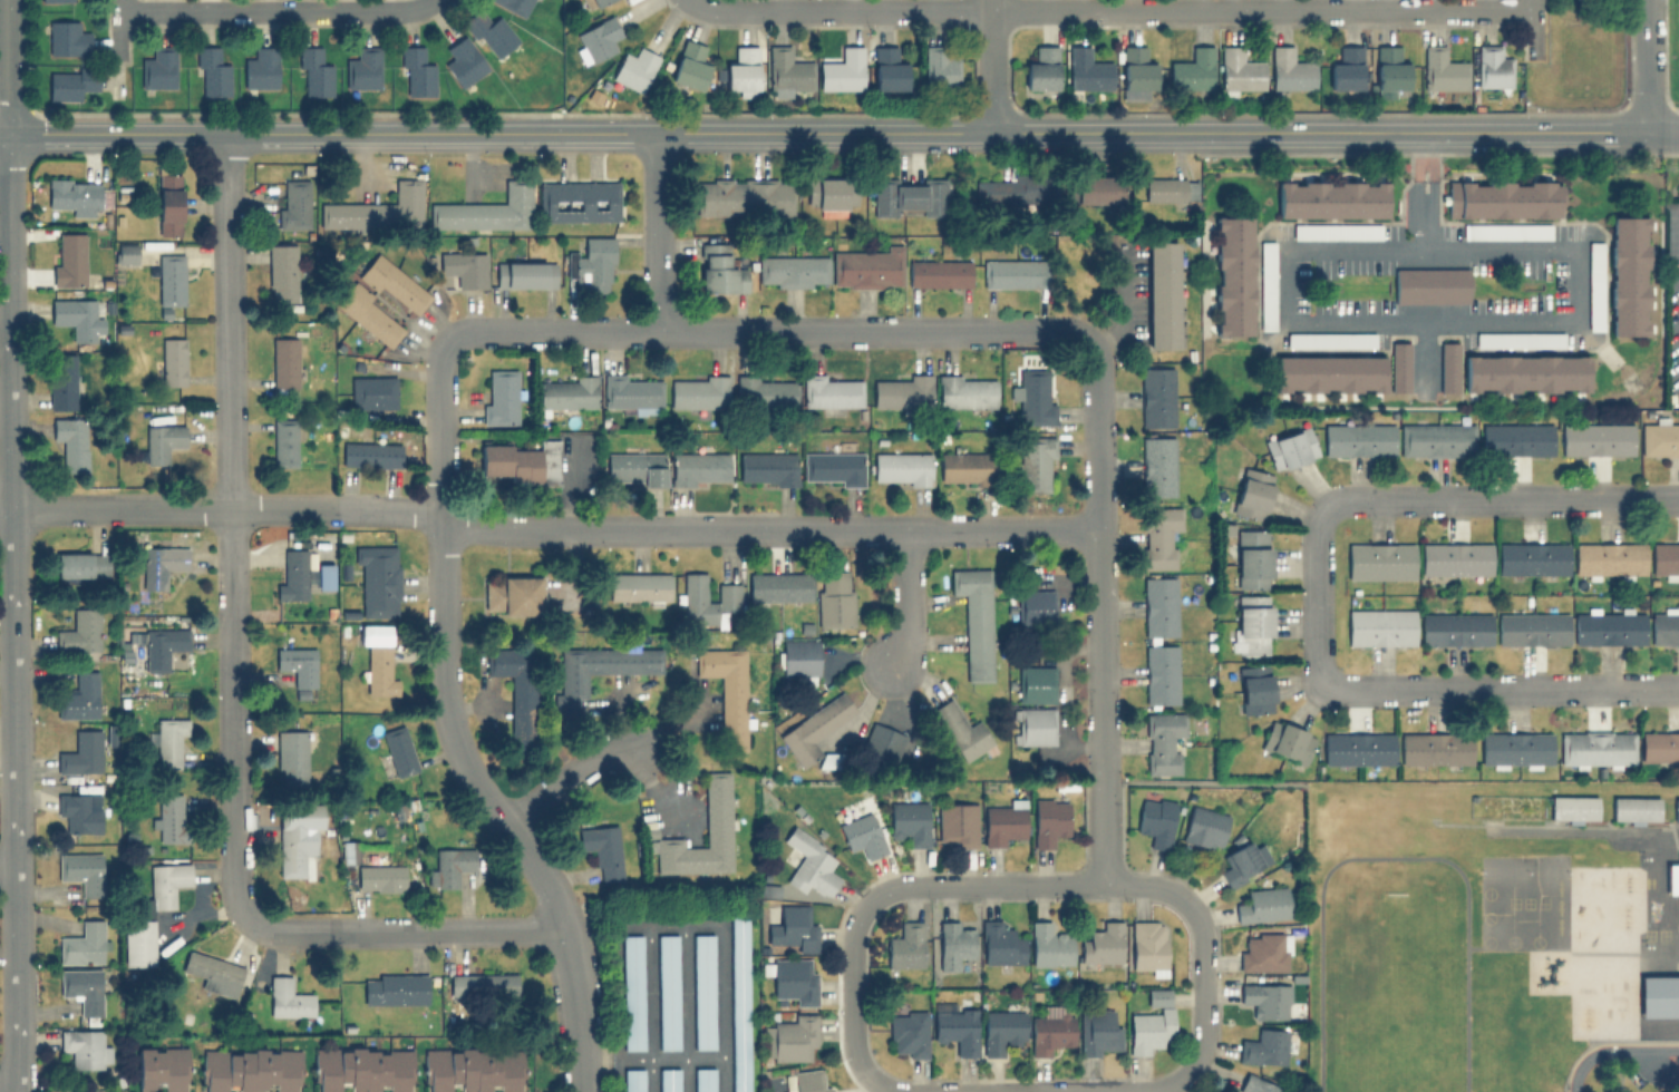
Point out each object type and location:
building: (56, 0)
building: (593, 2)
building: (512, 4)
road: (841, 9)
road: (1259, 10)
road: (273, 11)
building: (489, 32)
building: (67, 38)
building: (598, 38)
building: (463, 60)
building: (689, 65)
building: (938, 66)
road: (989, 66)
building: (1492, 66)
road: (1647, 66)
road: (4, 67)
building: (158, 67)
building: (261, 68)
building: (362, 68)
building: (887, 68)
building: (1041, 68)
building: (1346, 68)
building: (1390, 68)
building: (634, 69)
building: (1087, 69)
building: (1192, 69)
building: (1240, 69)
building: (1290, 69)
building: (1442, 69)
building: (744, 70)
building: (842, 70)
building: (1136, 70)
building: (313, 71)
building: (415, 71)
building: (787, 71)
building: (212, 72)
building: (69, 82)
road: (599, 133)
road: (1423, 133)
road: (1662, 133)
road: (1421, 155)
building: (1171, 188)
building: (1012, 189)
building: (1096, 189)
building: (829, 193)
building: (909, 195)
building: (74, 196)
building: (744, 196)
building: (1332, 198)
building: (1502, 198)
building: (579, 201)
building: (294, 203)
building: (168, 204)
building: (378, 209)
building: (488, 209)
building: (1505, 230)
road: (657, 231)
building: (1336, 231)
building: (126, 253)
building: (69, 259)
building: (591, 264)
building: (464, 267)
building: (867, 267)
building: (718, 269)
building: (793, 271)
building: (282, 272)
building: (938, 272)
building: (1594, 272)
building: (1013, 273)
building: (525, 274)
building: (1233, 275)
building: (1628, 275)
building: (171, 279)
building: (395, 283)
building: (1266, 284)
building: (1430, 285)
building: (1162, 294)
building: (370, 315)
building: (75, 316)
road: (1399, 316)
road: (765, 328)
building: (1330, 339)
building: (1511, 340)
building: (173, 361)
building: (284, 361)
building: (1399, 365)
building: (1448, 367)
building: (1329, 373)
building: (1525, 373)
building: (62, 380)
building: (965, 390)
building: (371, 391)
building: (700, 391)
building: (766, 391)
building: (831, 391)
building: (903, 391)
building: (567, 392)
building: (631, 393)
building: (1035, 396)
building: (1156, 396)
building: (501, 398)
building: (1659, 438)
building: (1359, 439)
building: (1437, 439)
building: (1517, 439)
building: (1596, 439)
building: (71, 441)
building: (162, 441)
building: (284, 442)
building: (1290, 448)
building: (370, 454)
building: (522, 461)
building: (1036, 462)
building: (1157, 466)
building: (700, 467)
building: (834, 467)
building: (965, 467)
building: (634, 468)
building: (767, 468)
building: (902, 468)
building: (1251, 493)
road: (1497, 497)
road: (549, 525)
road: (232, 527)
building: (1159, 536)
building: (1532, 557)
building: (1609, 557)
building: (1252, 558)
building: (1456, 558)
building: (1665, 558)
building: (1380, 559)
road: (1100, 560)
building: (162, 564)
building: (81, 565)
building: (293, 574)
building: (324, 576)
building: (379, 579)
building: (639, 586)
building: (778, 586)
building: (513, 595)
building: (834, 597)
road: (1313, 598)
road: (908, 599)
building: (709, 601)
building: (1159, 606)
building: (1035, 607)
road: (12, 613)
building: (974, 620)
building: (1252, 624)
building: (1380, 626)
building: (1609, 626)
building: (1665, 626)
building: (1455, 627)
building: (1532, 627)
building: (80, 631)
building: (163, 646)
road: (440, 652)
building: (798, 657)
building: (379, 664)
building: (603, 664)
building: (298, 669)
building: (1159, 673)
building: (1035, 683)
road: (1500, 688)
building: (1254, 689)
building: (516, 691)
building: (727, 691)
building: (79, 695)
building: (1035, 725)
building: (814, 728)
building: (960, 730)
building: (169, 740)
building: (1162, 741)
building: (1287, 741)
building: (882, 742)
building: (1659, 745)
building: (1358, 748)
building: (1435, 748)
building: (1515, 748)
building: (1596, 748)
building: (399, 750)
building: (80, 752)
building: (291, 757)
road: (566, 776)
road: (1205, 783)
road: (653, 787)
building: (717, 803)
building: (1572, 807)
building: (1634, 808)
building: (1676, 810)
building: (78, 811)
building: (169, 818)
building: (1048, 820)
building: (1155, 820)
building: (908, 821)
building: (1003, 823)
building: (957, 825)
building: (1204, 827)
road: (1106, 833)
building: (861, 835)
building: (297, 838)
building: (602, 849)
building: (349, 851)
road: (1392, 857)
building: (1240, 861)
building: (809, 862)
building: (450, 865)
building: (81, 871)
road: (9, 875)
building: (380, 875)
building: (1672, 879)
road: (1027, 885)
building: (1262, 904)
building: (152, 911)
road: (683, 926)
building: (792, 927)
road: (404, 932)
building: (1000, 943)
building: (1101, 943)
building: (84, 944)
building: (953, 944)
building: (1049, 944)
building: (905, 945)
building: (1148, 945)
building: (1264, 950)
building: (213, 972)
building: (793, 979)
building: (483, 984)
road: (1201, 984)
road: (853, 985)
building: (395, 988)
building: (703, 989)
building: (83, 991)
park: (1395, 991)
building: (632, 992)
building: (669, 992)
building: (1659, 995)
building: (289, 998)
building: (1265, 998)
building: (739, 1002)
road: (650, 1008)
road: (686, 1008)
road: (575, 1011)
building: (1151, 1022)
building: (957, 1028)
building: (1001, 1030)
building: (1049, 1031)
building: (1098, 1031)
building: (908, 1033)
building: (794, 1037)
building: (1263, 1046)
building: (86, 1047)
road: (1612, 1050)
road: (633, 1059)
road: (687, 1059)
building: (163, 1067)
building: (250, 1069)
building: (362, 1069)
building: (473, 1069)
road: (615, 1075)
building: (633, 1080)
building: (669, 1080)
building: (705, 1080)
building: (804, 1081)
building: (1255, 1084)
road: (879, 1085)
road: (1, 1091)
road: (1114, 1091)

